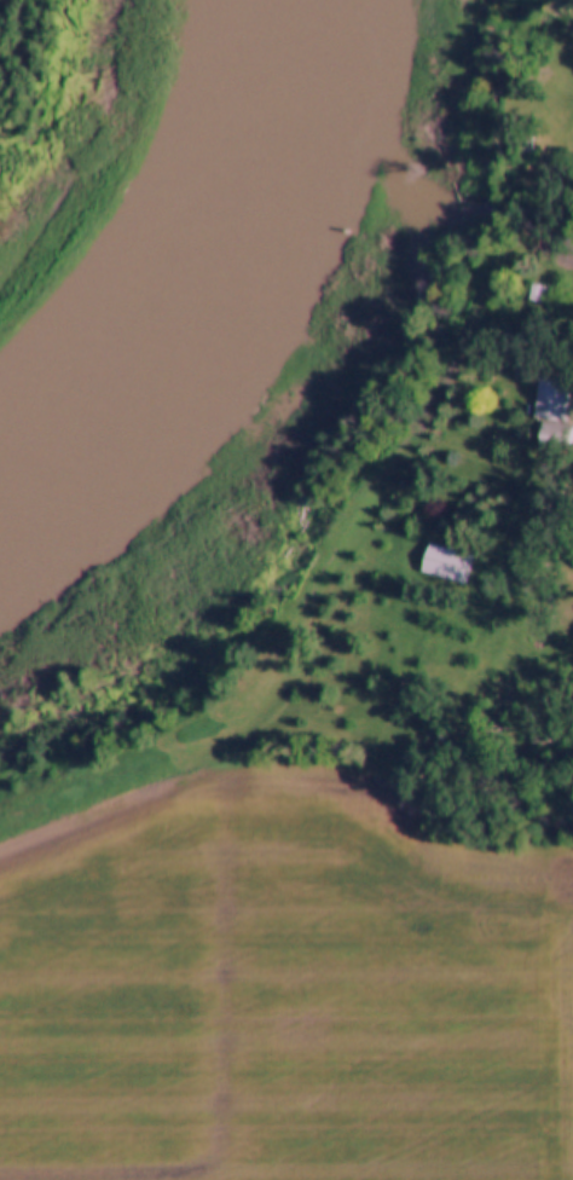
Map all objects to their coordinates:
river: (183, 239)
building: (550, 399)
building: (554, 436)
building: (444, 563)

